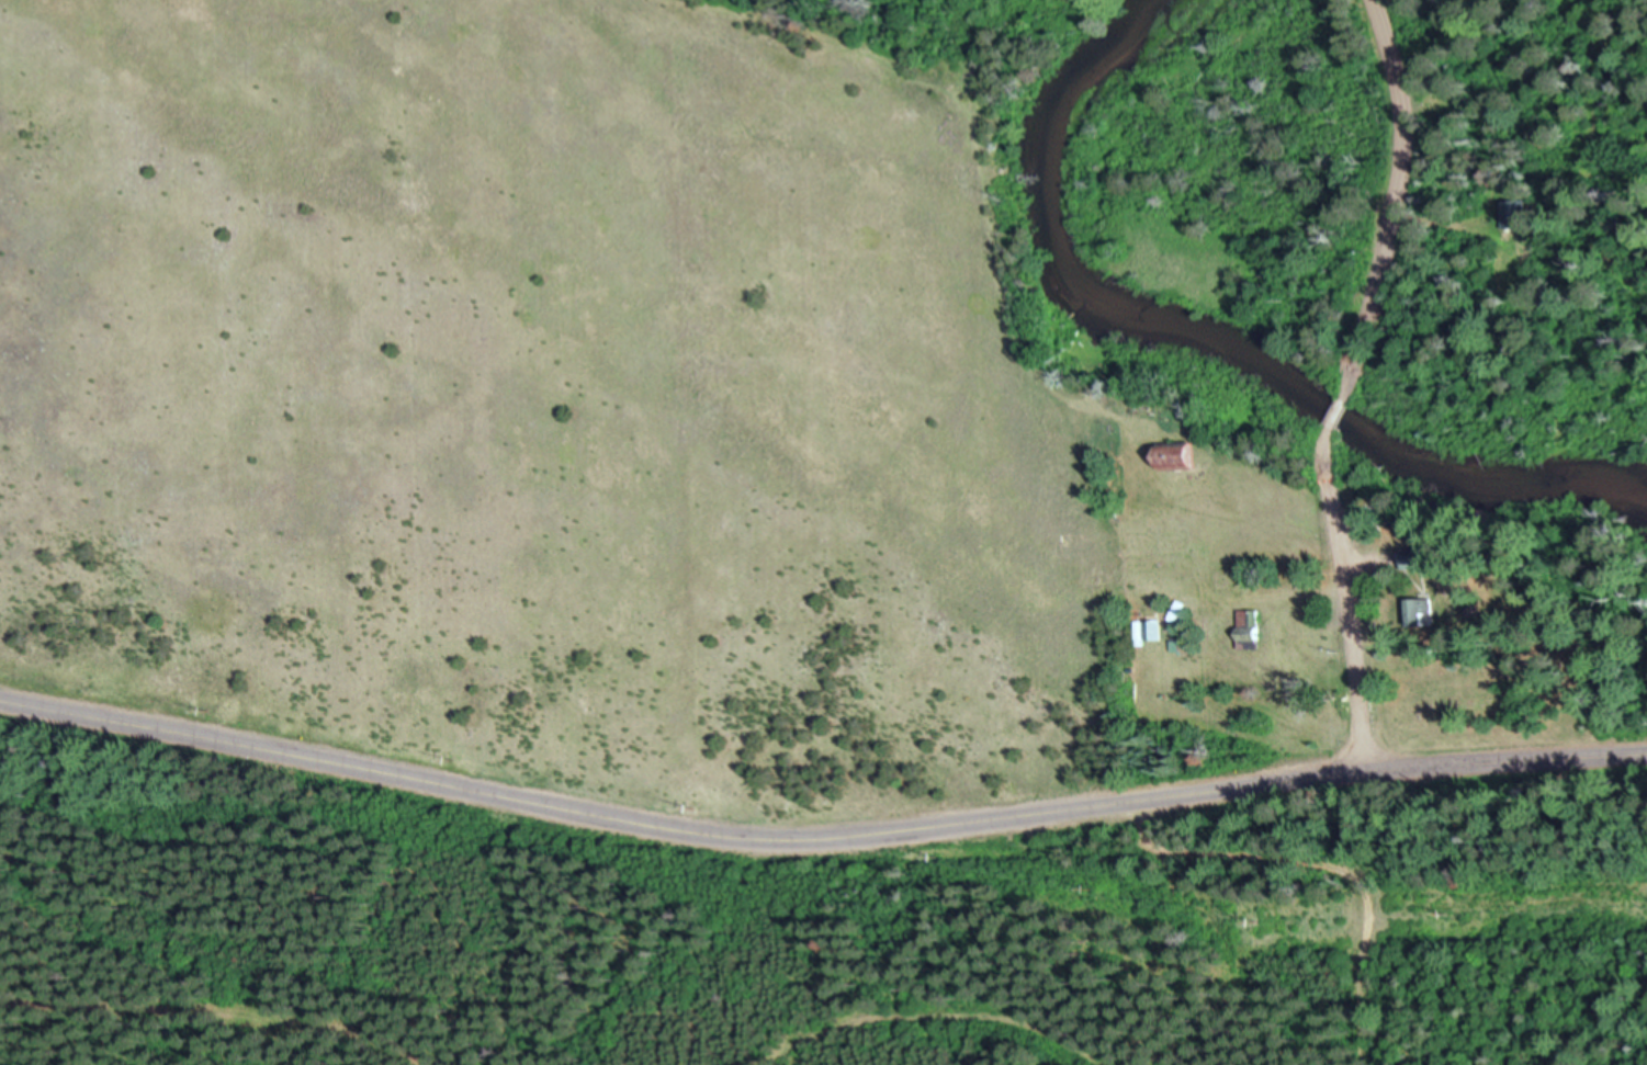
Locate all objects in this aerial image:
river: (1200, 349)
road: (1349, 384)
building: (1178, 464)
building: (1242, 622)
road: (817, 840)

